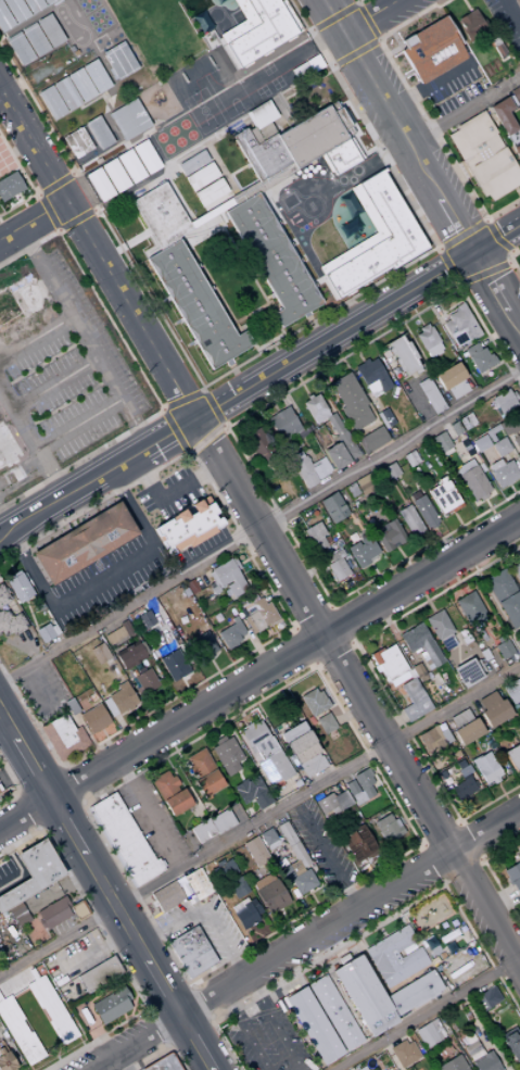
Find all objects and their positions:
building: (47, 2)
road: (357, 2)
building: (250, 3)
building: (31, 5)
road: (465, 5)
building: (15, 10)
road: (511, 14)
road: (334, 17)
road: (377, 17)
road: (333, 18)
building: (4, 20)
parking lot: (507, 21)
road: (367, 22)
building: (271, 23)
building: (471, 27)
building: (48, 30)
park: (117, 35)
road: (393, 36)
building: (281, 38)
road: (379, 39)
building: (33, 40)
road: (397, 45)
building: (18, 49)
building: (497, 49)
road: (392, 50)
building: (428, 51)
road: (354, 52)
building: (117, 60)
building: (301, 72)
road: (367, 73)
building: (97, 75)
road: (404, 75)
building: (80, 84)
road: (429, 85)
building: (66, 92)
building: (515, 93)
road: (1, 95)
building: (52, 101)
park: (199, 102)
road: (462, 108)
building: (259, 116)
building: (128, 119)
building: (339, 119)
building: (504, 119)
building: (99, 131)
building: (309, 137)
building: (77, 142)
road: (15, 149)
building: (517, 152)
building: (261, 154)
building: (145, 156)
building: (483, 156)
building: (193, 164)
building: (130, 165)
building: (333, 167)
building: (115, 175)
building: (201, 176)
road: (430, 180)
road: (26, 181)
building: (365, 181)
road: (56, 184)
building: (100, 184)
building: (10, 186)
road: (517, 191)
building: (211, 192)
road: (36, 194)
road: (49, 212)
building: (161, 215)
building: (385, 217)
road: (77, 219)
road: (485, 219)
road: (35, 225)
building: (352, 226)
road: (56, 231)
road: (462, 234)
road: (495, 238)
road: (496, 238)
building: (399, 246)
road: (440, 247)
road: (508, 256)
building: (272, 260)
road: (511, 261)
road: (447, 265)
building: (385, 270)
road: (482, 270)
building: (352, 274)
road: (459, 285)
road: (495, 291)
road: (344, 301)
road: (432, 302)
road: (408, 304)
building: (195, 305)
road: (447, 309)
road: (385, 318)
road: (418, 319)
building: (459, 327)
road: (313, 328)
road: (495, 333)
road: (36, 337)
road: (87, 339)
road: (267, 339)
road: (348, 340)
building: (429, 340)
road: (271, 344)
road: (2, 351)
road: (327, 353)
road: (358, 355)
building: (402, 355)
building: (479, 357)
road: (312, 362)
road: (293, 373)
parking lot: (62, 375)
road: (139, 375)
road: (234, 375)
building: (372, 376)
building: (448, 376)
road: (54, 383)
road: (278, 389)
road: (303, 389)
road: (328, 390)
building: (456, 390)
road: (264, 391)
building: (430, 393)
road: (236, 394)
building: (308, 396)
building: (513, 396)
road: (182, 401)
building: (351, 401)
building: (503, 402)
building: (492, 404)
road: (272, 406)
road: (211, 408)
building: (316, 408)
building: (385, 418)
building: (466, 421)
building: (283, 423)
building: (512, 424)
road: (76, 425)
building: (334, 425)
road: (224, 427)
building: (503, 429)
road: (175, 435)
road: (203, 439)
building: (372, 440)
road: (233, 441)
building: (258, 441)
building: (440, 442)
building: (517, 443)
building: (479, 444)
road: (31, 445)
building: (346, 446)
building: (499, 446)
building: (446, 452)
building: (266, 455)
building: (337, 456)
building: (409, 458)
building: (494, 465)
building: (451, 466)
building: (464, 466)
building: (310, 470)
building: (390, 470)
road: (37, 471)
building: (503, 475)
road: (22, 480)
building: (473, 482)
building: (365, 483)
road: (508, 483)
road: (8, 489)
road: (511, 489)
building: (351, 491)
road: (167, 494)
building: (443, 495)
road: (517, 499)
road: (294, 502)
road: (486, 503)
building: (354, 505)
building: (332, 507)
building: (456, 507)
building: (423, 512)
road: (457, 518)
road: (495, 519)
building: (409, 521)
road: (4, 524)
road: (72, 524)
road: (257, 527)
road: (261, 527)
building: (187, 528)
road: (436, 532)
building: (315, 534)
building: (390, 536)
road: (467, 537)
road: (507, 539)
road: (301, 542)
road: (421, 542)
building: (85, 544)
road: (445, 549)
road: (284, 551)
building: (363, 551)
road: (399, 554)
road: (253, 555)
building: (337, 555)
road: (516, 555)
road: (430, 557)
road: (469, 562)
road: (10, 566)
building: (338, 568)
road: (410, 569)
road: (372, 570)
building: (517, 570)
road: (309, 571)
road: (451, 572)
road: (104, 578)
building: (229, 578)
building: (18, 586)
building: (499, 586)
building: (191, 587)
road: (382, 587)
road: (460, 589)
building: (215, 590)
road: (276, 591)
road: (419, 591)
building: (3, 595)
road: (495, 605)
road: (429, 606)
building: (470, 606)
building: (511, 608)
road: (280, 610)
road: (30, 615)
building: (259, 616)
road: (309, 616)
building: (145, 619)
building: (183, 620)
road: (370, 620)
road: (342, 624)
building: (10, 625)
building: (439, 625)
building: (126, 628)
road: (272, 631)
building: (45, 632)
road: (511, 632)
building: (231, 633)
road: (394, 634)
building: (114, 635)
road: (489, 637)
road: (378, 639)
building: (447, 642)
building: (421, 643)
building: (517, 645)
building: (203, 646)
road: (28, 647)
building: (143, 647)
road: (302, 647)
road: (256, 649)
building: (504, 649)
building: (100, 653)
building: (130, 656)
road: (333, 656)
road: (457, 657)
road: (465, 657)
building: (392, 664)
building: (174, 665)
building: (113, 668)
road: (314, 668)
building: (417, 669)
building: (124, 671)
road: (258, 671)
road: (517, 671)
building: (132, 672)
building: (115, 674)
building: (469, 674)
road: (217, 675)
road: (333, 678)
building: (147, 680)
road: (375, 680)
road: (383, 685)
road: (319, 687)
road: (41, 689)
road: (254, 689)
building: (512, 691)
road: (188, 693)
road: (369, 693)
building: (91, 697)
building: (122, 698)
building: (414, 701)
road: (232, 702)
building: (314, 702)
road: (286, 704)
building: (71, 706)
building: (109, 707)
building: (493, 709)
road: (348, 713)
building: (94, 718)
road: (219, 718)
road: (291, 718)
building: (461, 719)
road: (446, 721)
road: (390, 722)
building: (326, 723)
road: (137, 725)
road: (3, 726)
road: (124, 731)
building: (279, 732)
building: (468, 732)
road: (102, 733)
building: (253, 734)
building: (63, 737)
building: (433, 739)
building: (219, 740)
road: (168, 741)
building: (300, 742)
building: (265, 747)
road: (477, 747)
building: (227, 753)
building: (455, 754)
road: (479, 754)
building: (513, 756)
road: (410, 761)
road: (167, 764)
building: (200, 764)
building: (461, 764)
building: (312, 765)
road: (59, 766)
building: (230, 768)
building: (275, 768)
road: (422, 768)
building: (486, 768)
road: (39, 781)
road: (500, 781)
road: (193, 783)
building: (208, 783)
road: (68, 784)
road: (14, 785)
building: (164, 785)
building: (360, 786)
road: (434, 786)
building: (462, 788)
building: (0, 789)
building: (251, 789)
road: (498, 789)
building: (0, 792)
road: (17, 794)
road: (451, 800)
building: (176, 802)
building: (333, 803)
road: (80, 805)
road: (507, 805)
road: (436, 808)
road: (29, 813)
road: (414, 814)
road: (143, 815)
road: (59, 816)
road: (258, 820)
building: (221, 821)
building: (388, 828)
building: (202, 830)
road: (39, 831)
building: (121, 833)
road: (437, 833)
building: (268, 839)
building: (357, 844)
building: (292, 845)
parking lot: (320, 846)
building: (255, 852)
road: (238, 854)
road: (326, 856)
road: (369, 865)
road: (15, 866)
building: (145, 872)
building: (33, 873)
building: (513, 878)
building: (299, 880)
road: (379, 882)
building: (196, 883)
road: (59, 889)
road: (314, 889)
road: (104, 892)
building: (269, 893)
building: (166, 896)
road: (312, 898)
road: (202, 909)
building: (79, 910)
building: (53, 912)
building: (245, 912)
building: (18, 915)
road: (282, 917)
road: (292, 933)
building: (183, 939)
road: (303, 940)
road: (268, 948)
road: (111, 949)
building: (190, 949)
building: (395, 957)
building: (198, 964)
building: (99, 974)
building: (17, 984)
road: (189, 986)
building: (379, 995)
building: (485, 999)
road: (169, 1003)
building: (111, 1005)
road: (132, 1005)
building: (51, 1010)
road: (147, 1011)
building: (333, 1012)
road: (423, 1012)
road: (123, 1017)
road: (272, 1022)
building: (312, 1025)
road: (244, 1029)
road: (92, 1031)
building: (18, 1032)
building: (429, 1034)
parking lot: (264, 1036)
road: (80, 1042)
building: (512, 1045)
building: (1, 1050)
building: (404, 1053)
road: (54, 1056)
building: (481, 1059)
building: (7, 1061)
building: (163, 1063)
building: (453, 1065)
road: (29, 1068)

